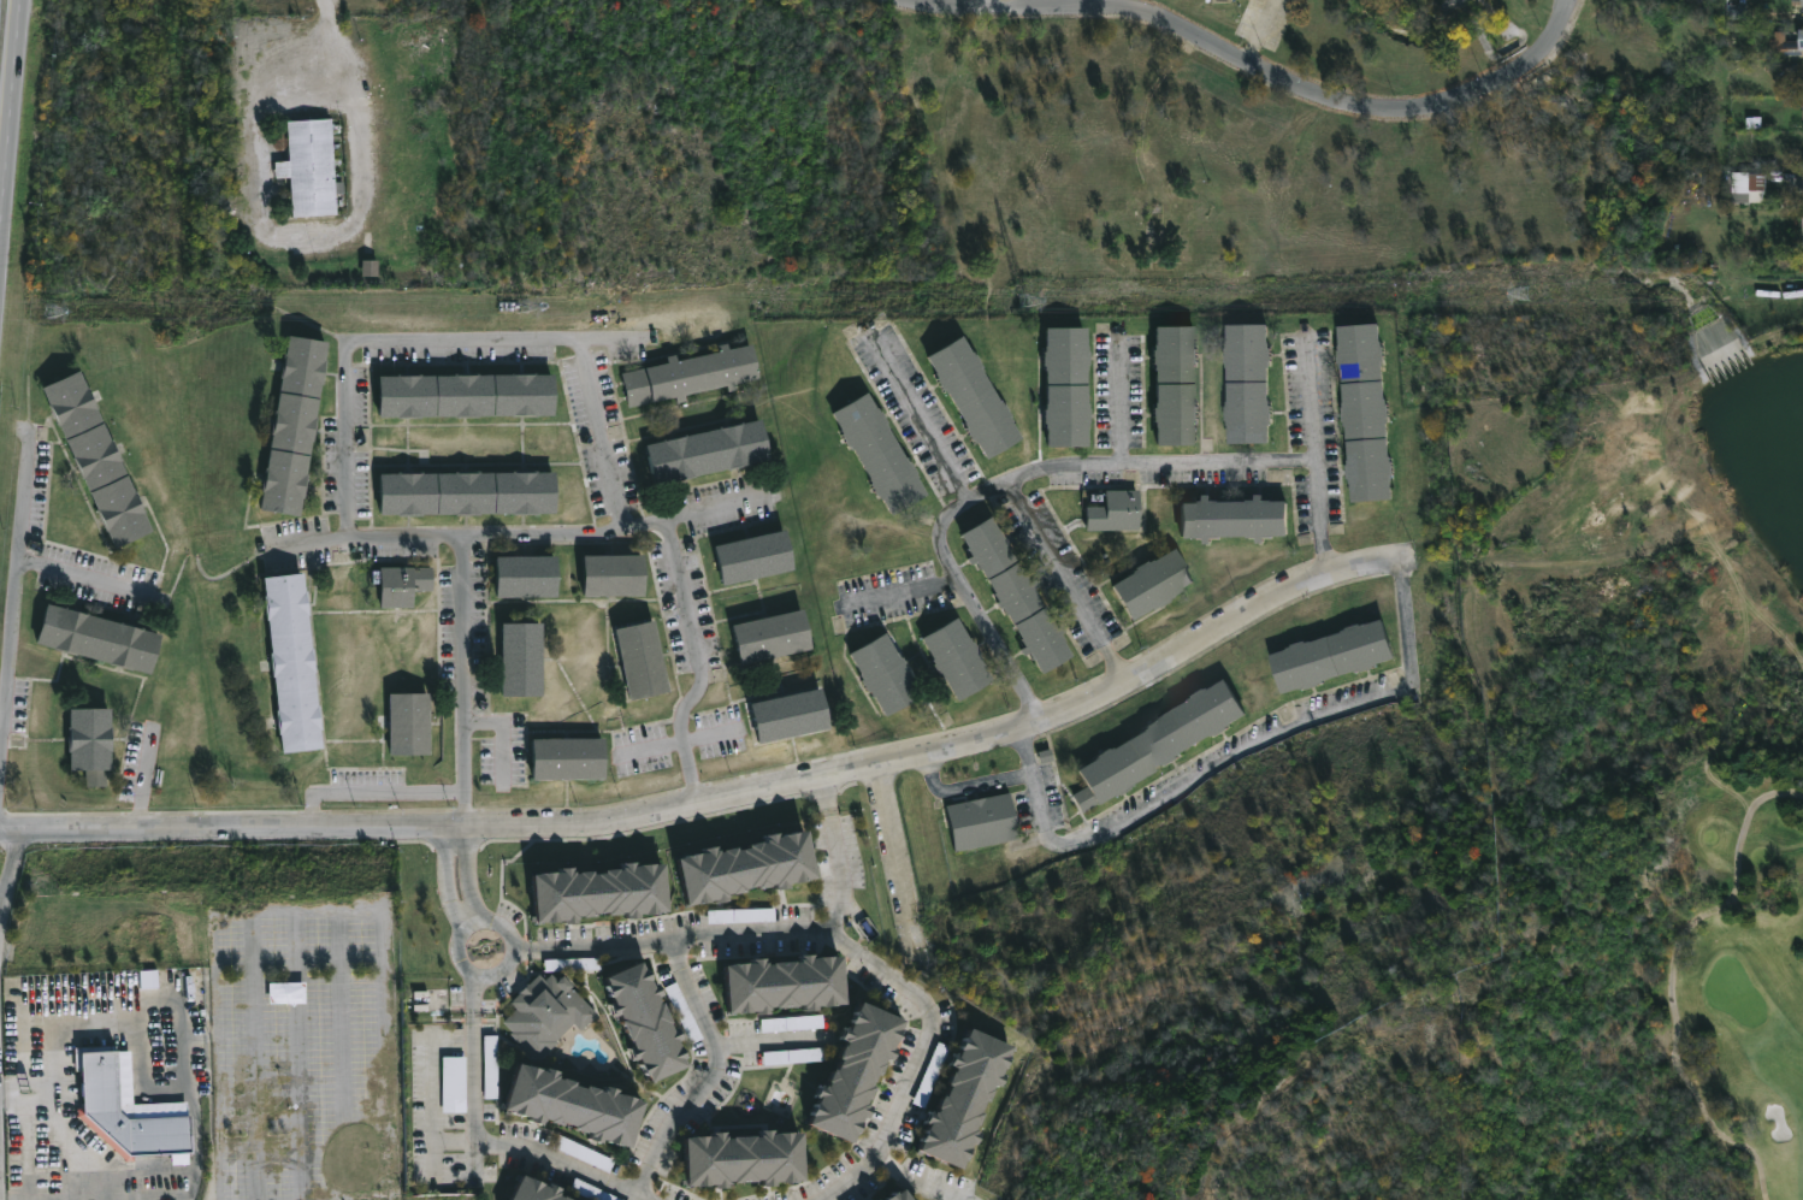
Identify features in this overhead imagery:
building: (1802, 2)
road: (1565, 34)
building: (1787, 45)
road: (1223, 47)
road: (377, 118)
road: (11, 130)
park: (897, 152)
building: (1799, 164)
building: (313, 167)
road: (1786, 173)
building: (1746, 187)
building: (1799, 189)
building: (1802, 226)
power tower: (1520, 297)
power tower: (1016, 305)
power tower: (518, 309)
power tower: (49, 317)
road: (499, 344)
building: (685, 374)
building: (1245, 384)
building: (1171, 385)
building: (1060, 386)
building: (471, 396)
building: (968, 396)
road: (1119, 401)
building: (1362, 413)
road: (920, 415)
building: (296, 426)
road: (604, 435)
road: (351, 441)
building: (699, 451)
building: (875, 453)
road: (1319, 457)
building: (101, 459)
road: (1012, 479)
building: (471, 493)
building: (1110, 512)
building: (1228, 520)
road: (520, 533)
building: (746, 557)
road: (88, 575)
building: (607, 575)
building: (531, 578)
road: (1068, 580)
building: (403, 585)
building: (1145, 585)
road: (901, 591)
building: (1011, 592)
road: (12, 593)
road: (1408, 617)
building: (104, 636)
building: (763, 637)
building: (527, 656)
building: (950, 657)
building: (1329, 657)
building: (297, 660)
building: (634, 660)
road: (702, 666)
building: (879, 673)
road: (468, 682)
building: (781, 716)
building: (413, 721)
road: (715, 734)
road: (502, 737)
building: (94, 740)
building: (1151, 741)
road: (654, 746)
building: (573, 756)
road: (150, 776)
road: (976, 782)
road: (377, 794)
road: (1183, 796)
road: (725, 800)
building: (977, 820)
road: (903, 858)
road: (838, 861)
building: (758, 862)
road: (10, 868)
road: (471, 873)
road: (447, 879)
building: (608, 889)
road: (487, 918)
road: (844, 946)
road: (981, 962)
park: (1726, 965)
road: (1672, 976)
building: (773, 982)
park: (1733, 991)
building: (549, 1012)
building: (656, 1019)
road: (767, 1042)
road: (479, 1057)
road: (705, 1065)
building: (844, 1070)
building: (456, 1083)
road: (159, 1087)
building: (105, 1088)
building: (956, 1095)
building: (583, 1103)
road: (428, 1111)
building: (732, 1157)
road: (575, 1163)
road: (93, 1165)
road: (916, 1176)
building: (545, 1189)
building: (525, 1193)
building: (887, 1195)
building: (867, 1199)

